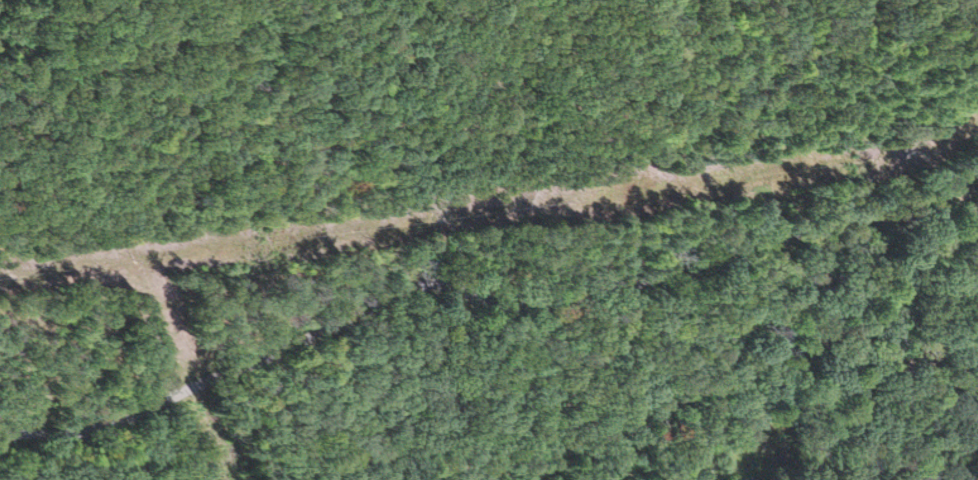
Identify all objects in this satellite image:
road: (971, 289)
road: (484, 306)
road: (872, 315)

